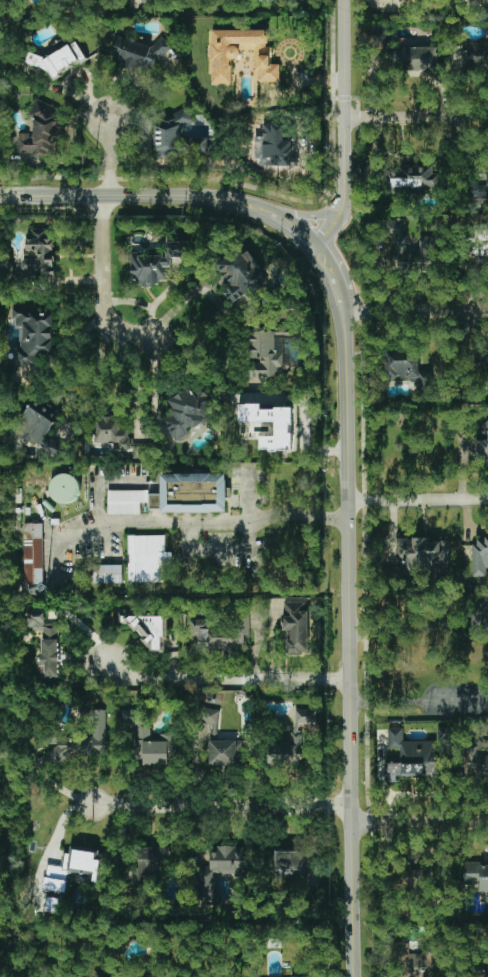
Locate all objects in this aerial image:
building: (475, 0)
building: (381, 41)
building: (138, 53)
building: (239, 54)
building: (476, 56)
building: (415, 58)
building: (61, 59)
road: (345, 99)
road: (417, 116)
building: (38, 134)
building: (198, 145)
building: (272, 149)
road: (112, 155)
building: (413, 178)
building: (483, 189)
road: (133, 195)
road: (308, 215)
road: (334, 225)
road: (306, 237)
building: (410, 251)
road: (346, 258)
building: (155, 264)
building: (240, 273)
road: (104, 283)
road: (338, 297)
road: (175, 309)
road: (416, 314)
building: (31, 338)
building: (264, 356)
building: (484, 361)
building: (408, 371)
road: (133, 379)
road: (91, 380)
building: (187, 412)
building: (37, 428)
building: (282, 429)
building: (112, 433)
building: (482, 443)
building: (142, 450)
building: (64, 488)
road: (101, 492)
building: (190, 493)
road: (418, 500)
building: (125, 501)
road: (248, 518)
road: (186, 522)
road: (190, 539)
building: (33, 553)
building: (422, 555)
building: (480, 556)
building: (147, 558)
building: (107, 573)
building: (296, 626)
road: (419, 626)
building: (149, 630)
building: (219, 635)
building: (46, 641)
road: (350, 646)
road: (227, 678)
road: (419, 700)
building: (305, 716)
building: (217, 739)
building: (73, 744)
building: (154, 747)
building: (283, 753)
building: (411, 757)
building: (477, 761)
road: (222, 806)
road: (421, 822)
road: (56, 831)
building: (150, 863)
building: (291, 863)
building: (221, 868)
building: (476, 875)
building: (52, 881)
building: (415, 964)
building: (483, 967)
building: (299, 976)

